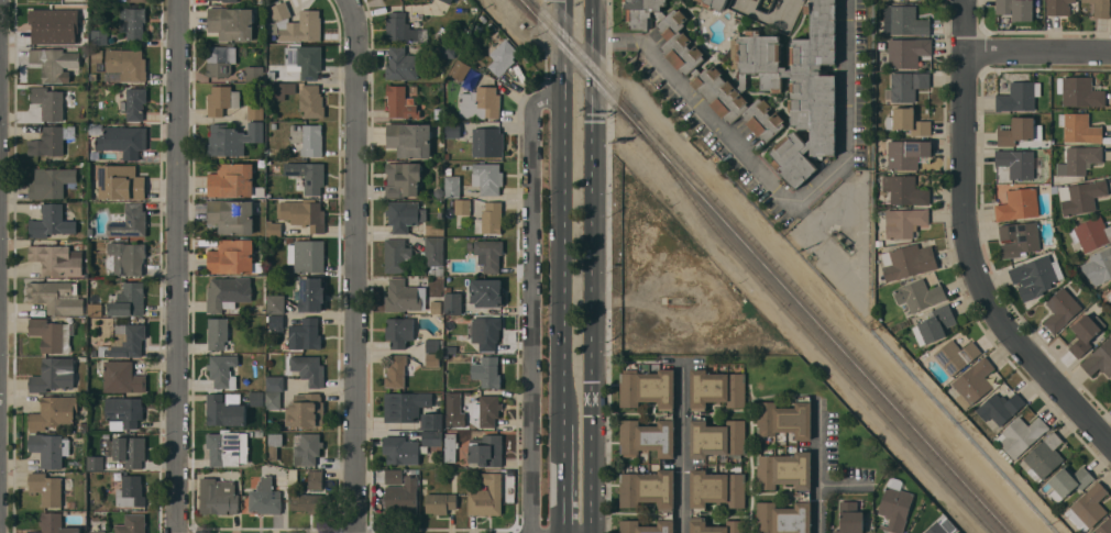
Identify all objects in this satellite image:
petroleum well: (768, 0)
building: (801, 0)
building: (136, 1)
building: (229, 1)
building: (448, 1)
building: (714, 3)
building: (1058, 7)
building: (1100, 8)
building: (1015, 9)
building: (641, 11)
building: (903, 21)
building: (134, 22)
building: (231, 23)
building: (296, 23)
building: (47, 27)
building: (399, 29)
building: (99, 37)
building: (679, 43)
building: (447, 51)
building: (908, 52)
road: (1038, 52)
building: (502, 57)
building: (304, 60)
building: (218, 62)
building: (54, 64)
building: (127, 64)
building: (402, 65)
building: (459, 70)
building: (254, 75)
building: (798, 87)
building: (905, 87)
building: (280, 89)
building: (1080, 91)
building: (1018, 97)
building: (221, 100)
building: (311, 101)
building: (48, 102)
building: (399, 102)
building: (480, 103)
building: (135, 104)
building: (737, 104)
building: (255, 108)
building: (432, 113)
building: (908, 122)
building: (1079, 127)
building: (96, 130)
building: (452, 130)
building: (1019, 131)
building: (232, 138)
building: (123, 140)
building: (312, 140)
building: (409, 140)
building: (51, 141)
building: (487, 142)
building: (906, 153)
building: (1079, 160)
building: (1019, 164)
building: (307, 176)
building: (487, 178)
building: (403, 179)
building: (231, 180)
building: (51, 182)
building: (119, 182)
building: (451, 185)
building: (904, 190)
road: (777, 192)
building: (1081, 196)
building: (1018, 204)
building: (462, 207)
road: (563, 210)
building: (304, 214)
building: (402, 215)
building: (231, 216)
building: (490, 219)
building: (51, 222)
building: (130, 222)
building: (904, 222)
building: (1091, 232)
building: (1019, 238)
petroleum well: (840, 241)
building: (878, 242)
road: (968, 244)
building: (433, 252)
building: (307, 255)
building: (396, 255)
building: (488, 255)
building: (231, 256)
building: (128, 257)
building: (57, 259)
building: (908, 262)
road: (359, 265)
road: (177, 266)
road: (592, 266)
railway: (765, 266)
railway: (778, 266)
building: (1098, 266)
building: (1035, 276)
building: (227, 292)
building: (486, 292)
building: (312, 295)
building: (919, 295)
building: (404, 296)
building: (1109, 296)
building: (55, 297)
building: (127, 300)
building: (452, 301)
building: (276, 304)
road: (532, 304)
building: (95, 310)
building: (1060, 310)
building: (276, 322)
building: (934, 324)
building: (398, 331)
building: (488, 332)
building: (217, 333)
building: (1085, 333)
building: (51, 335)
building: (305, 335)
railway: (813, 335)
building: (129, 342)
building: (433, 345)
building: (955, 356)
building: (1099, 358)
building: (431, 359)
building: (307, 369)
building: (485, 370)
building: (222, 371)
building: (395, 371)
building: (53, 375)
building: (122, 377)
building: (972, 382)
building: (275, 384)
building: (256, 398)
building: (273, 400)
building: (453, 403)
building: (405, 406)
building: (1000, 408)
building: (305, 410)
building: (486, 410)
building: (123, 411)
building: (223, 411)
building: (54, 413)
building: (668, 413)
building: (694, 413)
building: (784, 419)
building: (431, 421)
building: (258, 433)
building: (1021, 435)
building: (431, 437)
building: (78, 443)
building: (274, 444)
building: (449, 446)
road: (681, 447)
building: (50, 448)
building: (228, 448)
building: (306, 448)
building: (402, 449)
building: (128, 451)
building: (486, 451)
building: (1003, 454)
building: (1043, 458)
building: (95, 463)
building: (113, 465)
road: (815, 465)
building: (393, 476)
road: (562, 477)
building: (315, 479)
building: (1068, 481)
building: (45, 488)
building: (130, 491)
building: (805, 493)
building: (486, 496)
building: (218, 497)
building: (265, 497)
building: (402, 497)
building: (648, 499)
building: (715, 499)
building: (306, 502)
building: (439, 502)
building: (1087, 508)
building: (894, 509)
building: (850, 518)
building: (54, 524)
building: (131, 524)
building: (1104, 526)
building: (936, 529)
building: (97, 531)

